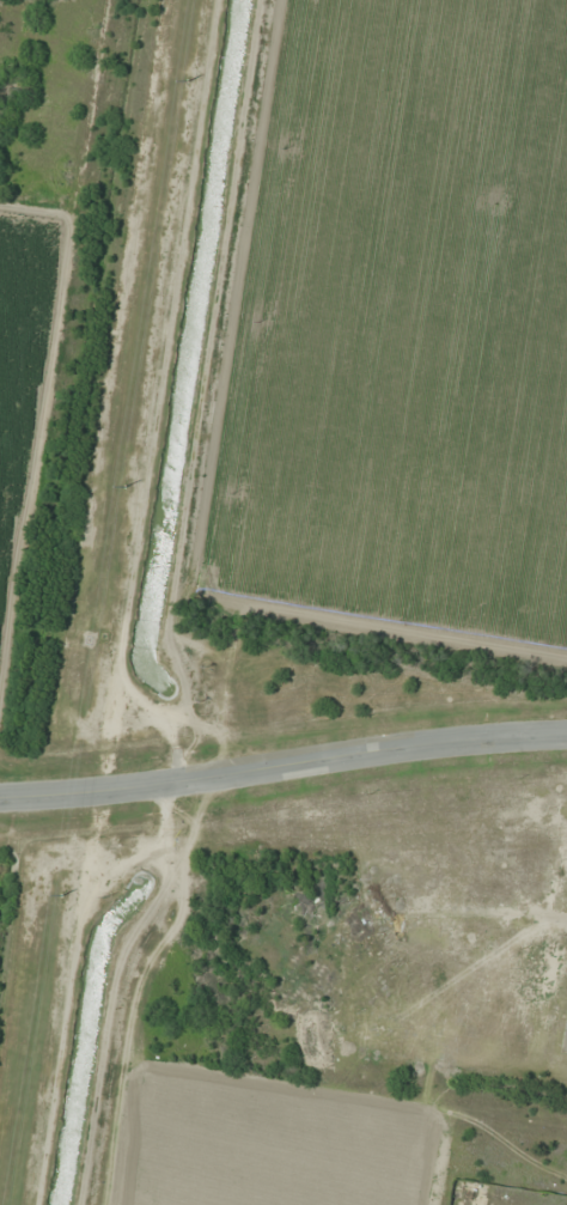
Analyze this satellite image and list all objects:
road: (282, 763)
parking lot: (563, 1046)

